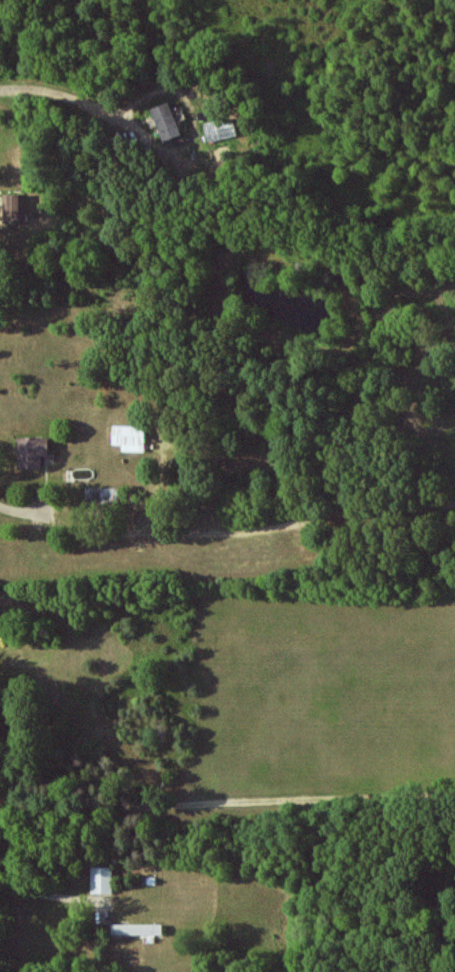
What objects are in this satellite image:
road: (64, 98)
building: (168, 123)
building: (15, 209)
building: (130, 437)
building: (33, 450)
road: (18, 509)
road: (244, 528)
road: (226, 810)
building: (101, 880)
building: (137, 929)

